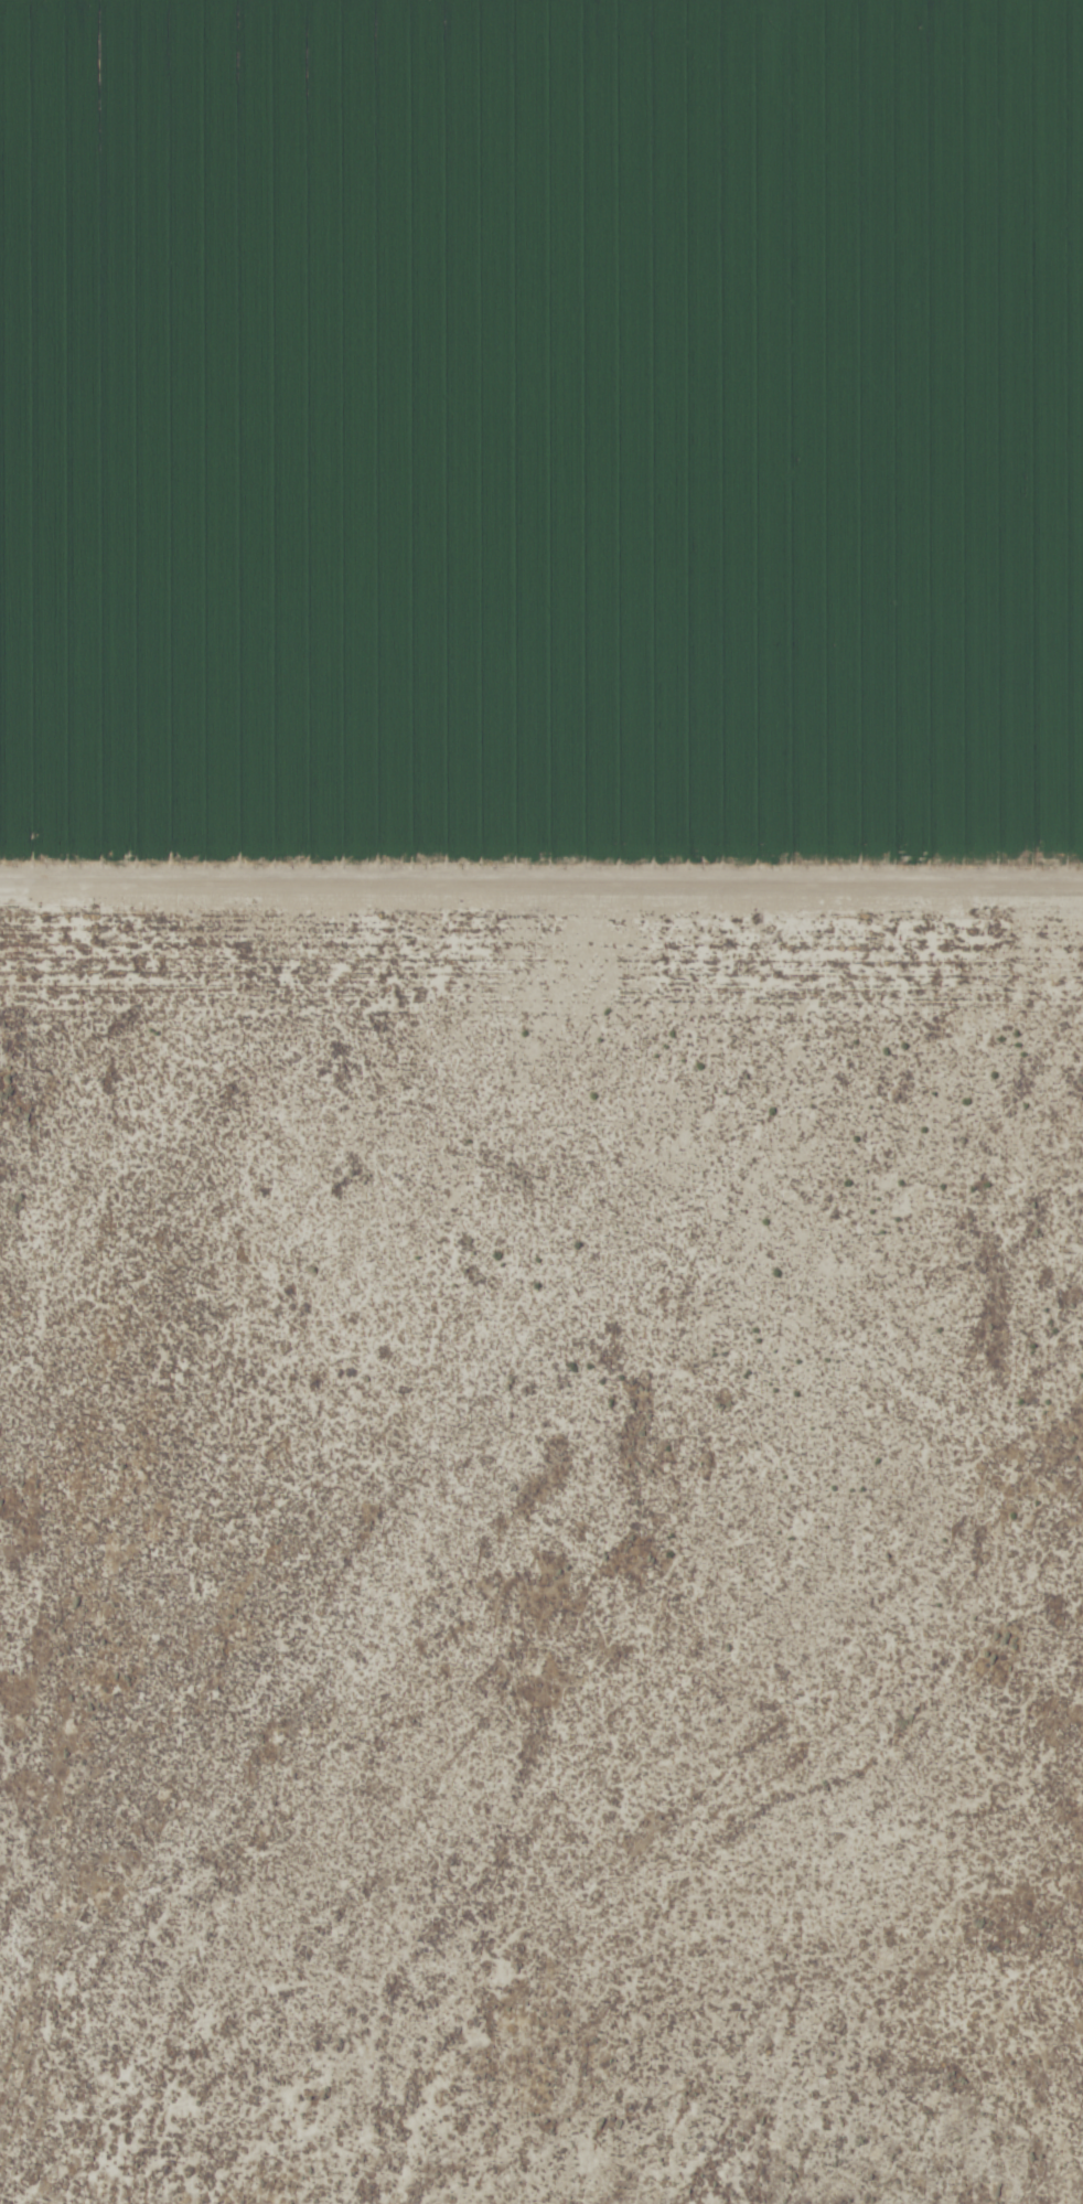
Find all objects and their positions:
crop: (541, 1102)

